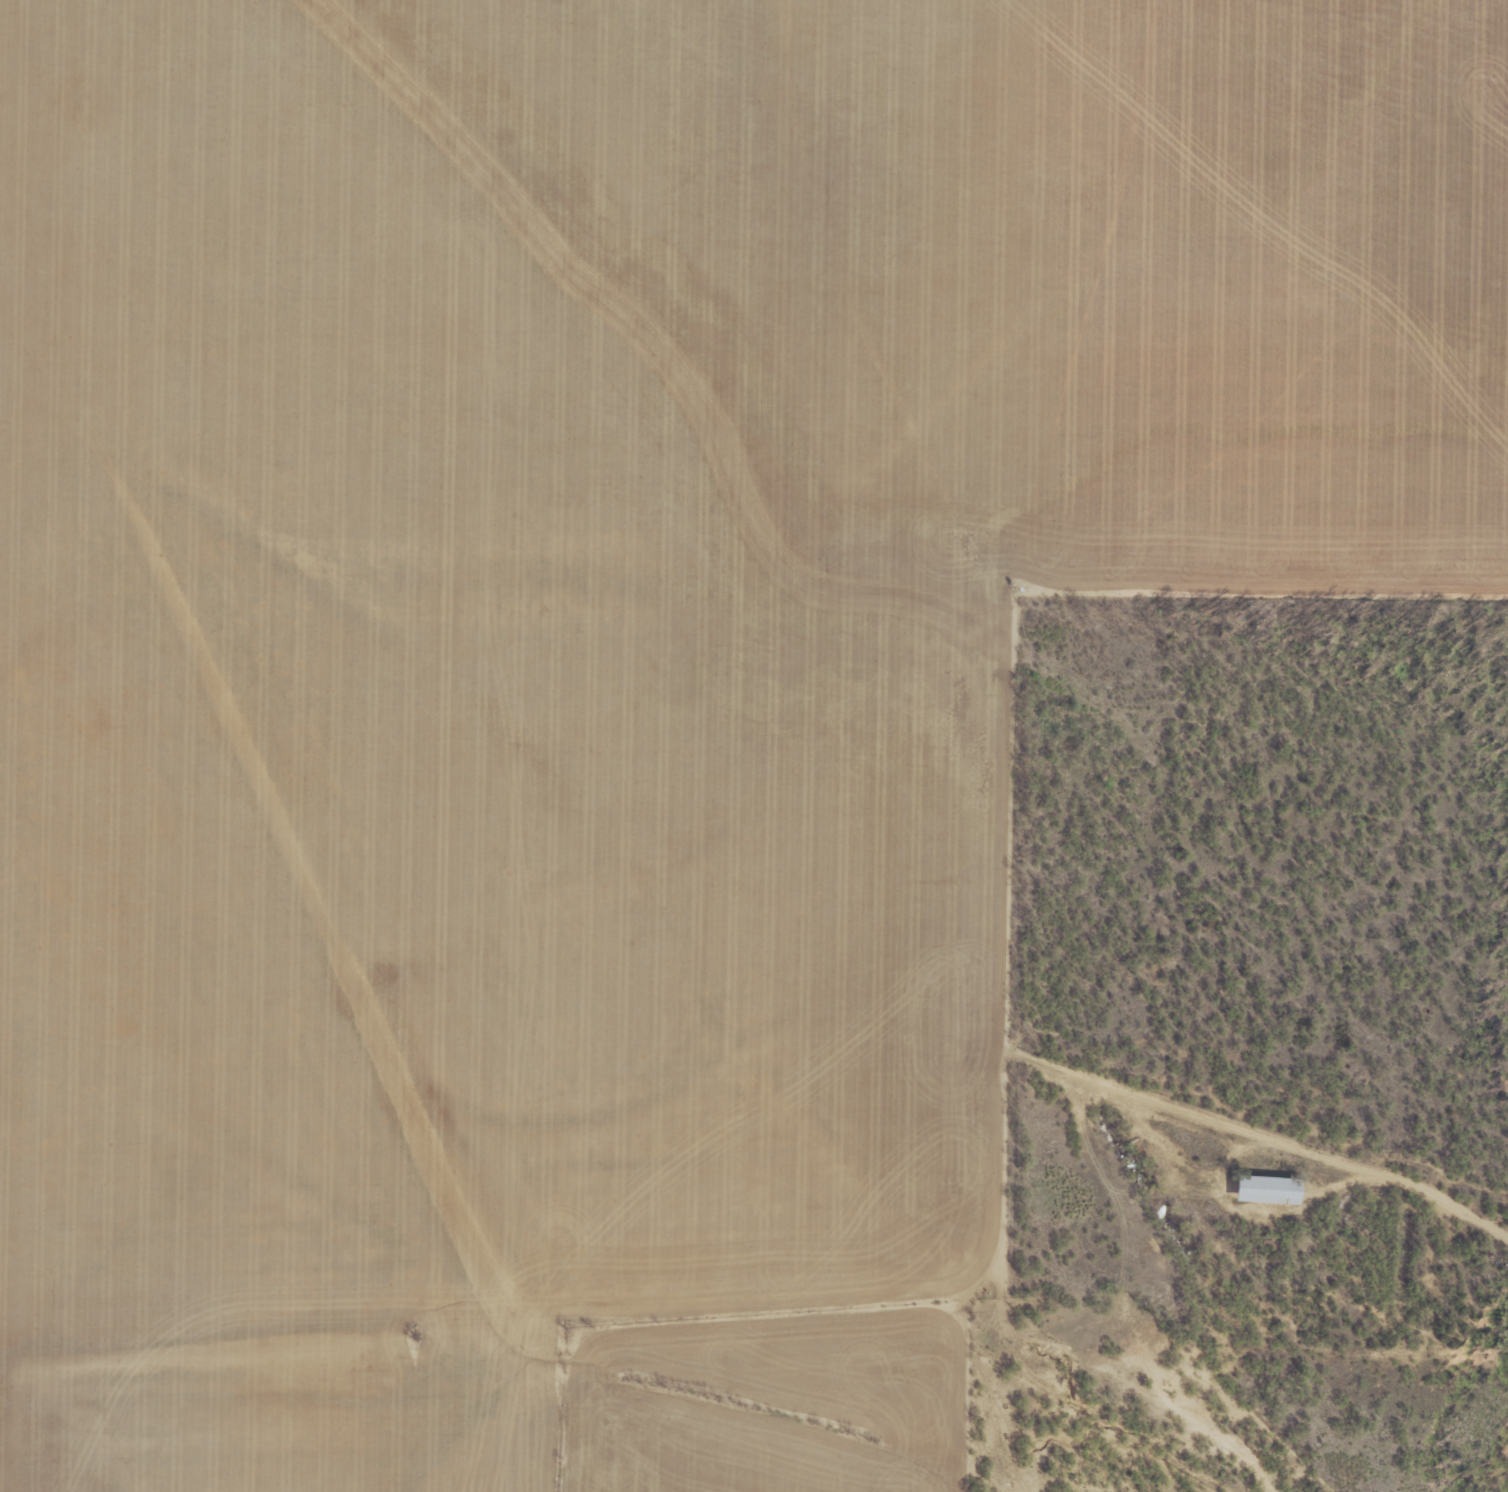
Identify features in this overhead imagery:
road: (1260, 1140)
building: (1270, 1191)

